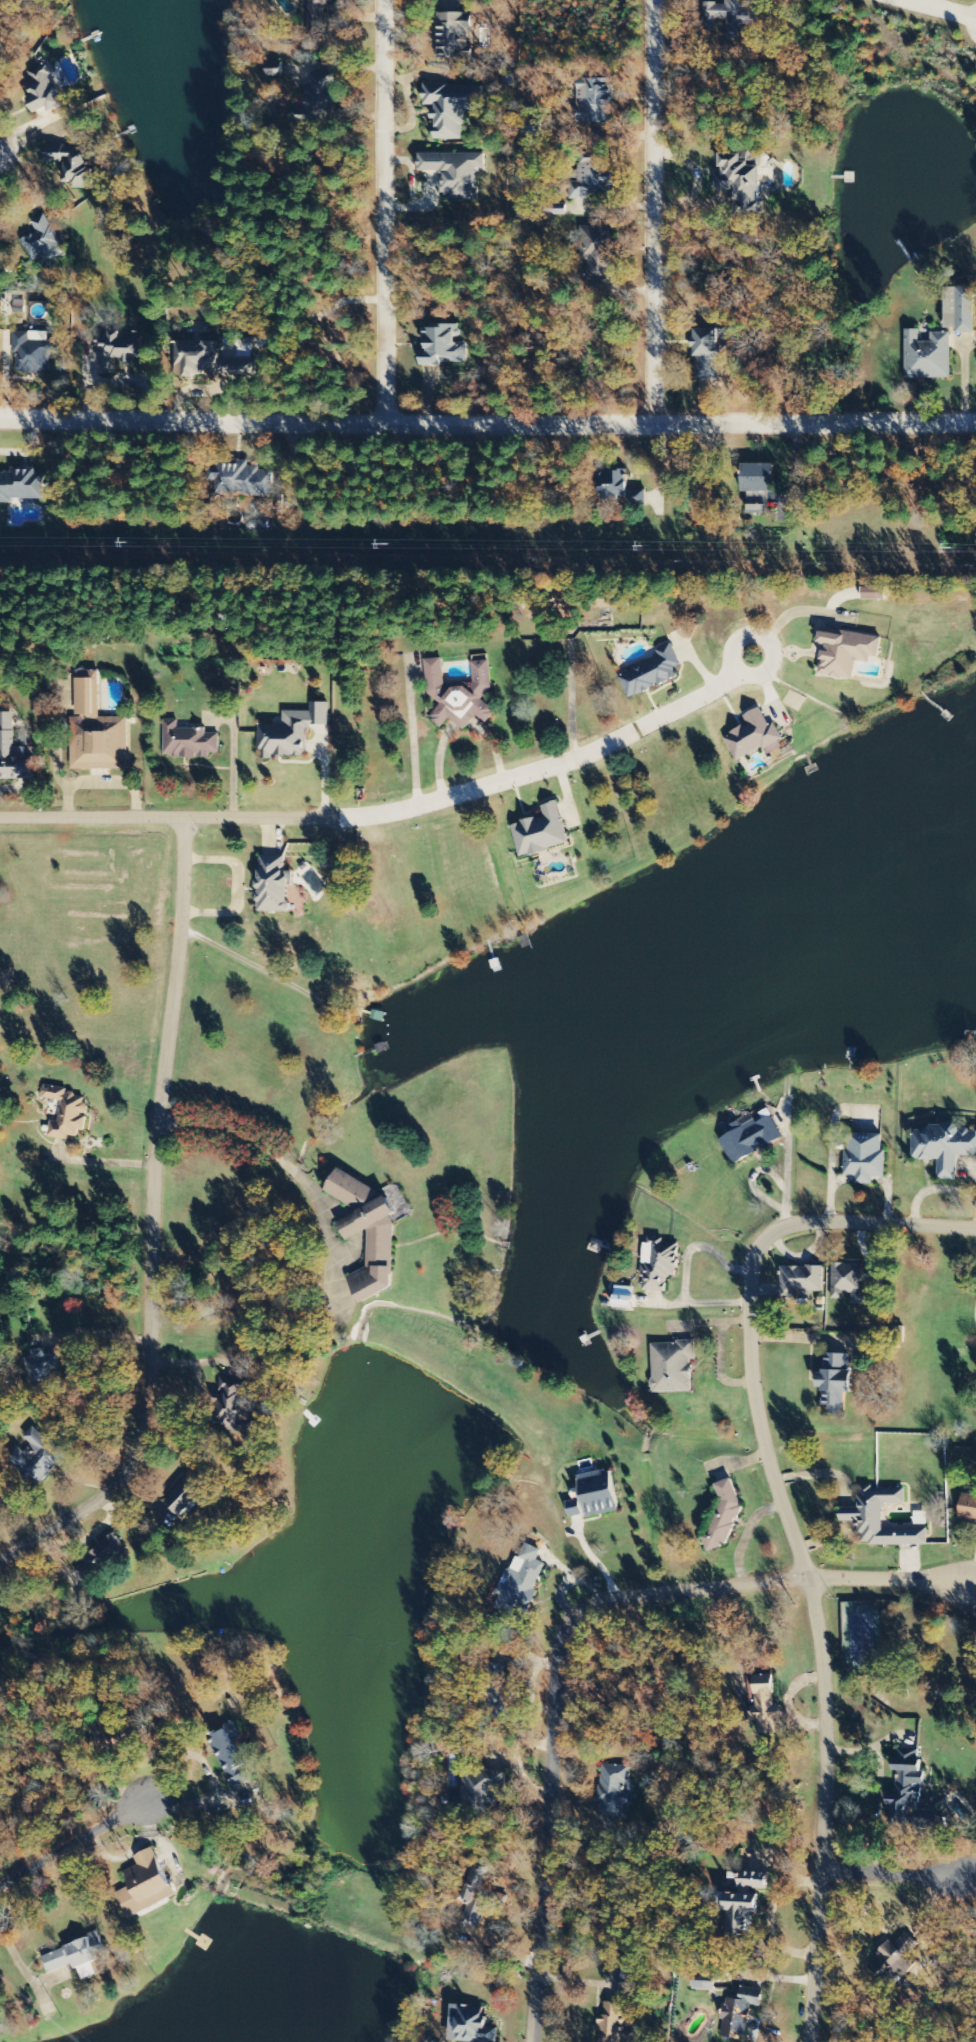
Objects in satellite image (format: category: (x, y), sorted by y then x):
road: (941, 9)
building: (736, 17)
building: (317, 18)
building: (452, 36)
building: (44, 90)
building: (318, 98)
building: (594, 101)
building: (452, 108)
building: (73, 164)
building: (454, 173)
building: (592, 179)
building: (745, 180)
road: (385, 212)
road: (654, 213)
building: (42, 243)
building: (599, 252)
building: (960, 309)
building: (442, 346)
building: (119, 349)
building: (707, 354)
building: (31, 356)
building: (927, 356)
building: (209, 362)
road: (487, 425)
building: (241, 480)
building: (757, 485)
building: (20, 486)
building: (619, 489)
building: (873, 594)
building: (606, 602)
building: (846, 652)
building: (650, 673)
building: (460, 695)
building: (97, 730)
building: (292, 732)
building: (754, 736)
building: (188, 742)
building: (12, 752)
road: (396, 811)
building: (541, 832)
building: (273, 884)
building: (68, 1113)
building: (749, 1137)
building: (943, 1147)
building: (864, 1156)
road: (152, 1224)
building: (380, 1237)
building: (660, 1266)
building: (801, 1282)
building: (849, 1283)
building: (623, 1297)
building: (672, 1366)
building: (43, 1375)
building: (835, 1380)
building: (236, 1407)
building: (35, 1458)
building: (599, 1494)
building: (187, 1495)
building: (967, 1509)
building: (574, 1510)
building: (724, 1516)
road: (792, 1530)
building: (99, 1560)
building: (521, 1585)
road: (568, 1627)
building: (495, 1699)
building: (764, 1704)
building: (229, 1755)
building: (906, 1785)
building: (480, 1789)
building: (609, 1791)
road: (74, 1845)
road: (892, 1874)
building: (145, 1885)
building: (475, 1897)
building: (76, 1957)
building: (893, 1958)
building: (704, 1985)
building: (739, 2013)
building: (612, 2023)
building: (470, 2025)

